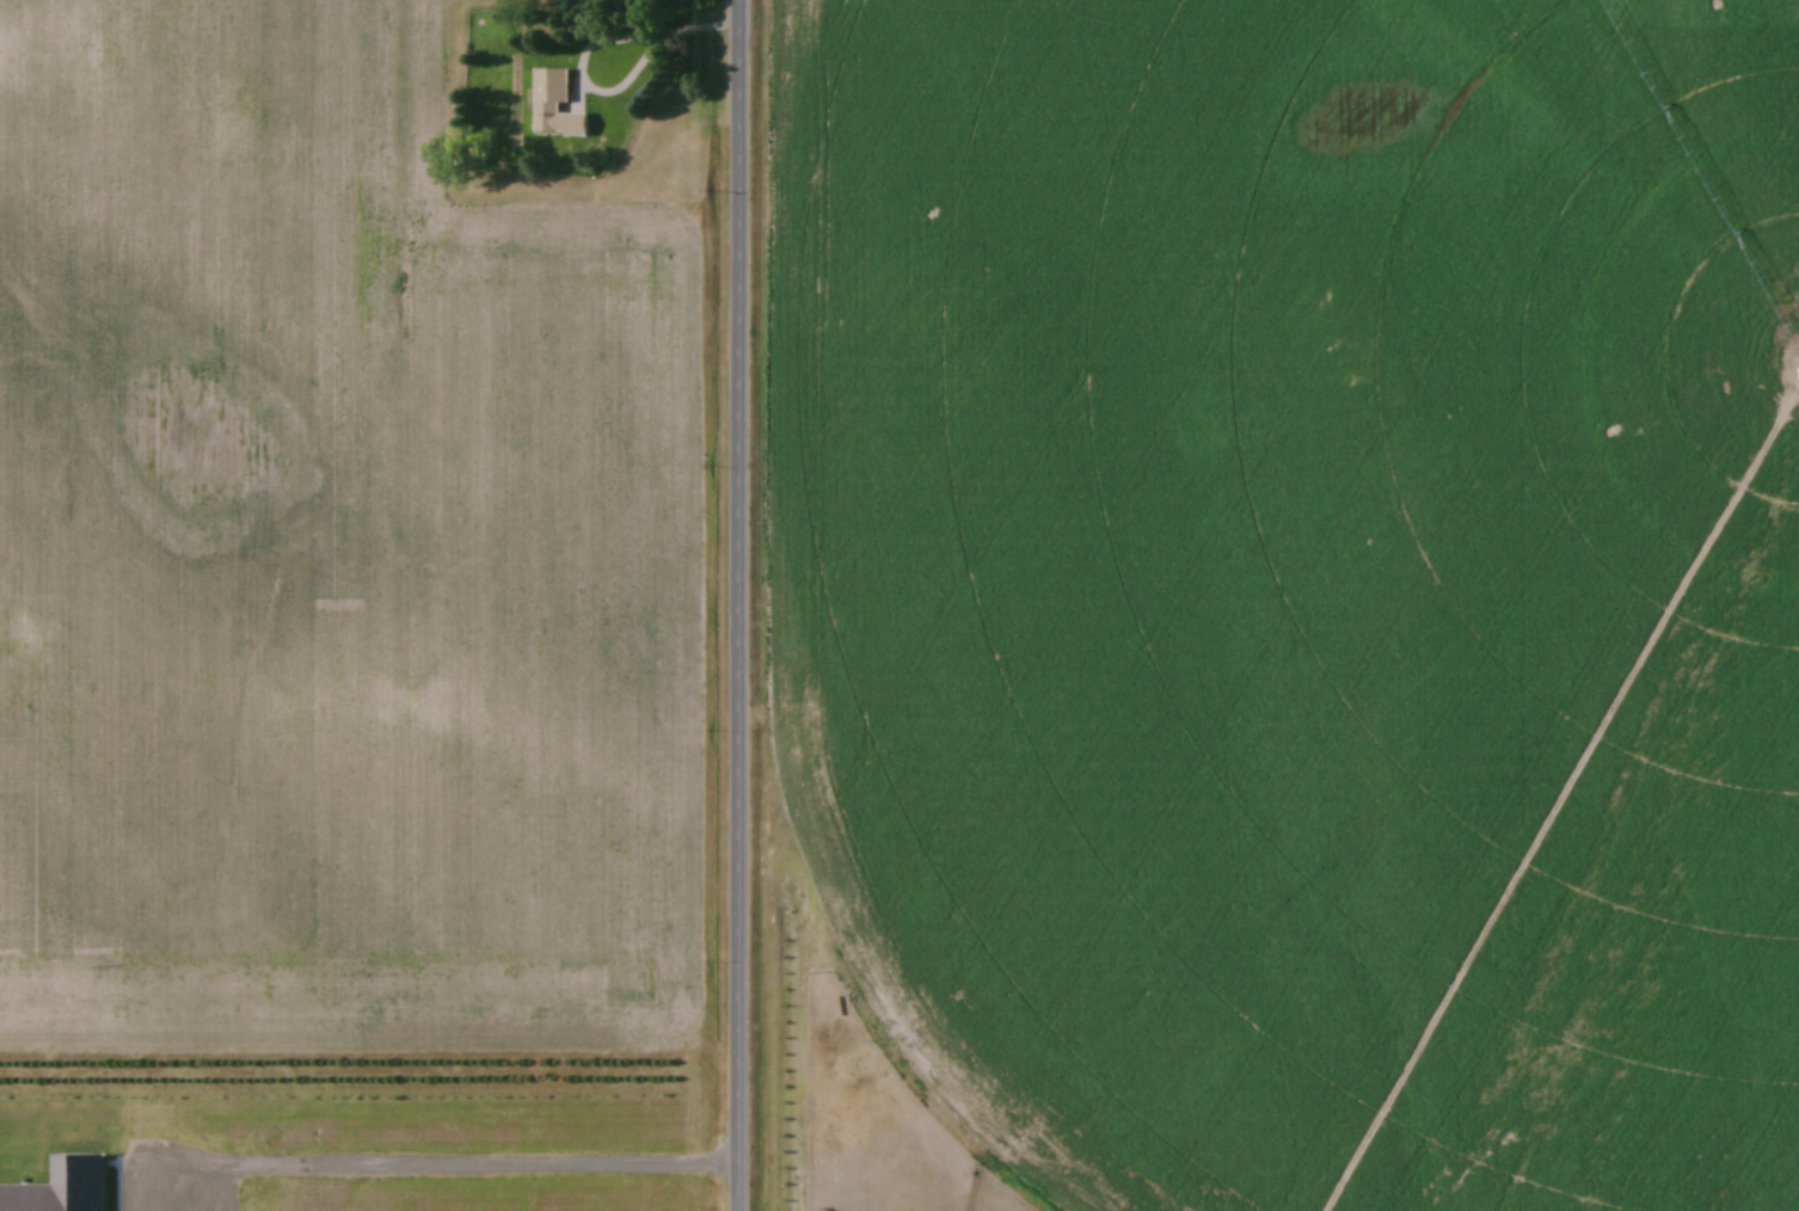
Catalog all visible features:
building: (558, 105)
road: (742, 605)

